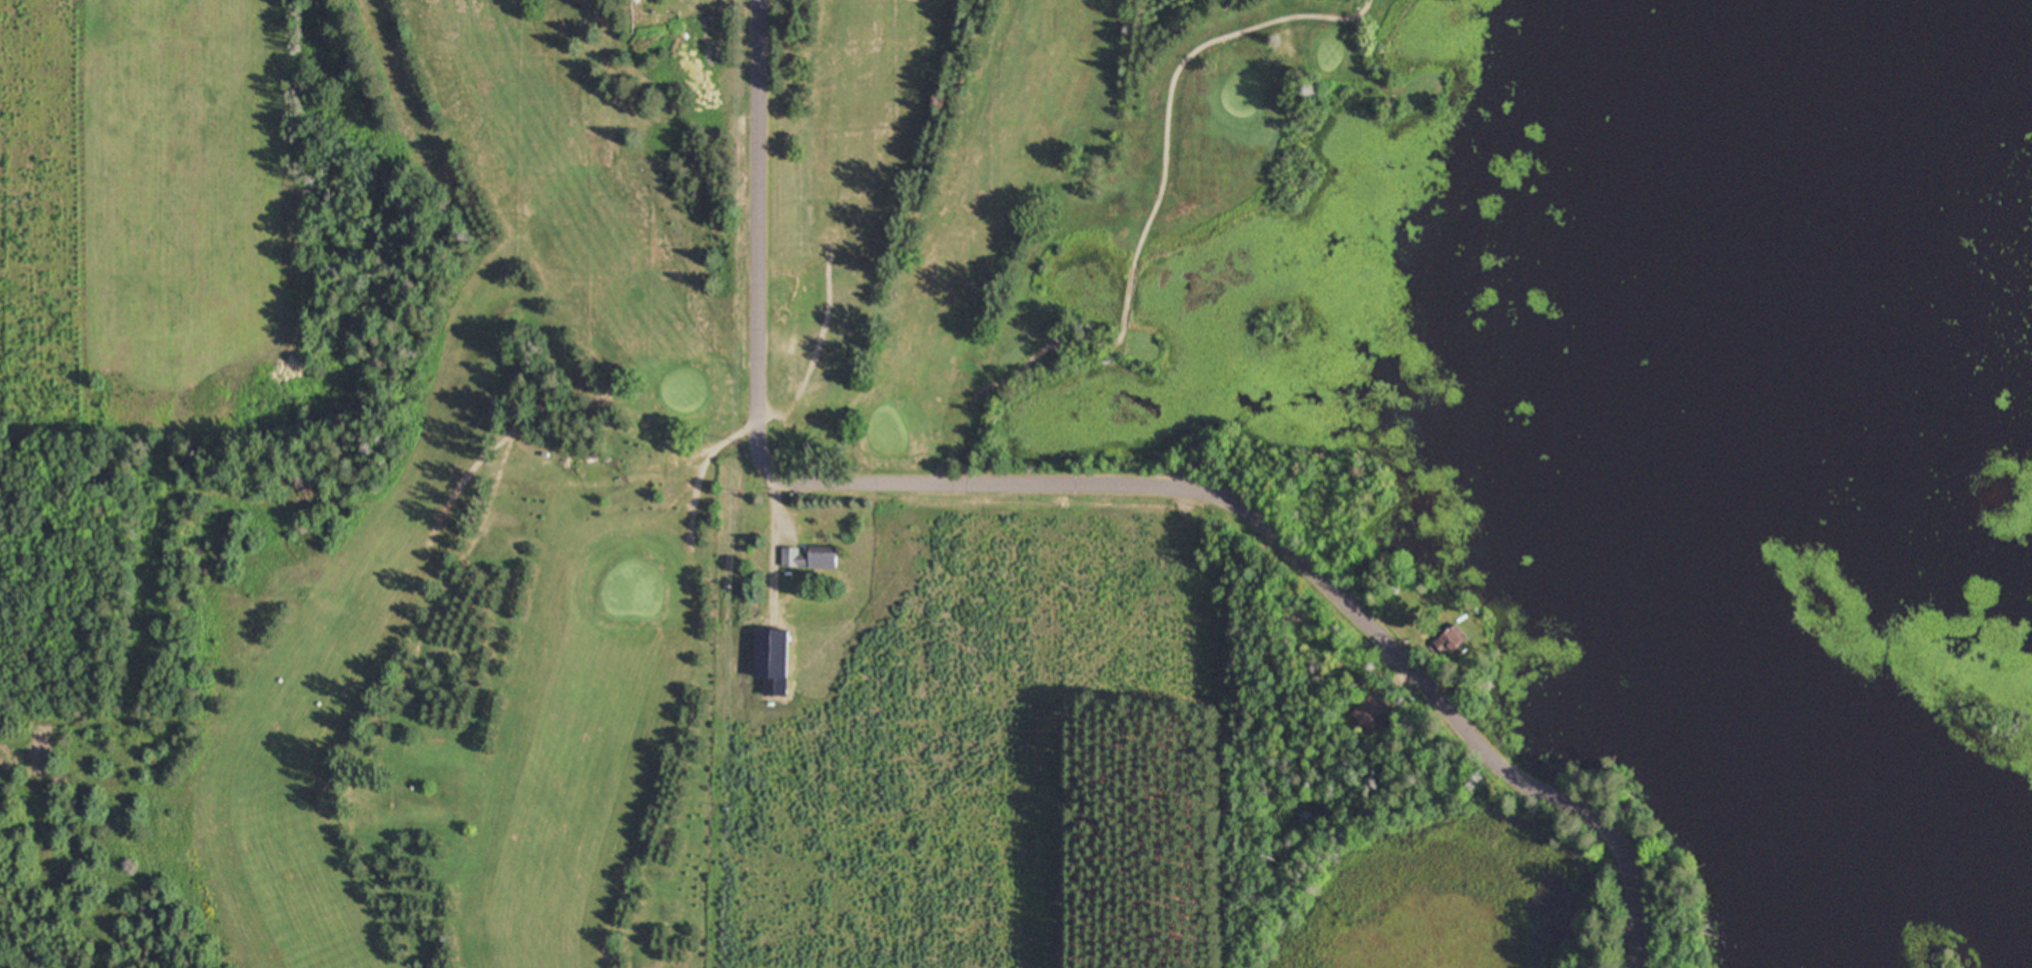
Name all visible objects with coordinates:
park: (651, 430)
road: (1102, 479)
building: (808, 557)
building: (1450, 640)
building: (1367, 712)

